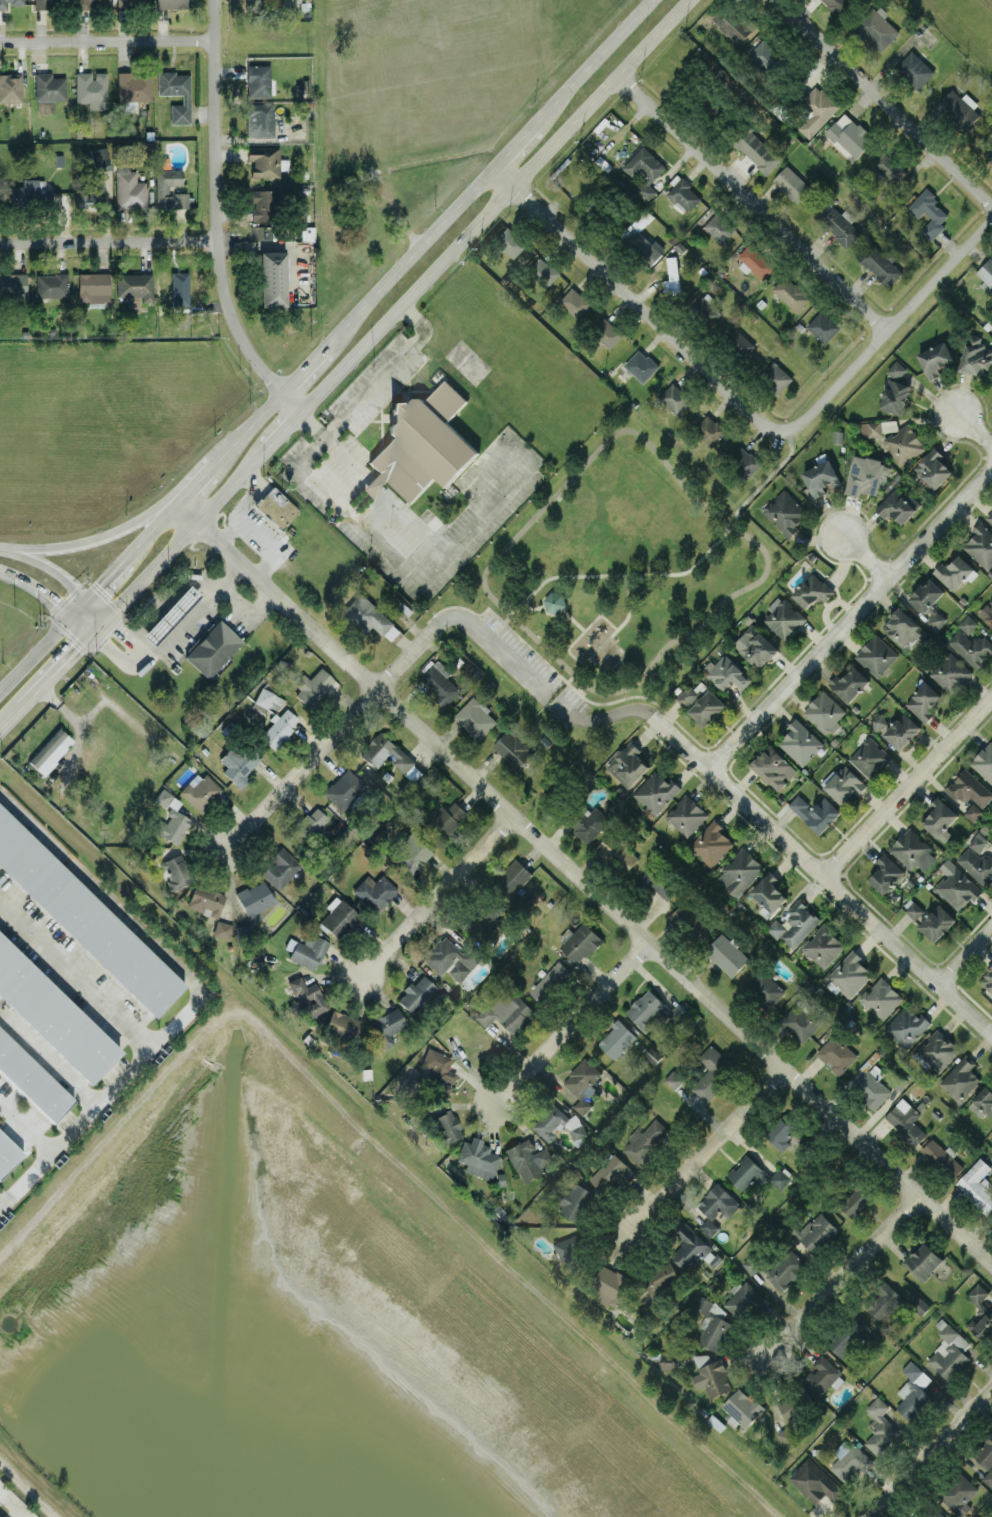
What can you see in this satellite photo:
building: (9, 2)
building: (84, 2)
building: (131, 2)
building: (43, 3)
building: (170, 3)
building: (837, 5)
building: (734, 24)
building: (876, 28)
road: (107, 39)
building: (764, 57)
building: (914, 69)
building: (258, 80)
building: (134, 85)
building: (10, 86)
building: (91, 88)
building: (48, 90)
building: (185, 98)
road: (884, 102)
building: (959, 108)
building: (816, 109)
building: (259, 118)
building: (848, 136)
building: (757, 150)
building: (988, 152)
building: (99, 155)
building: (265, 160)
road: (493, 165)
building: (890, 167)
building: (640, 174)
building: (792, 184)
building: (88, 187)
building: (161, 188)
building: (129, 189)
building: (28, 190)
building: (684, 194)
building: (264, 204)
road: (755, 204)
road: (493, 205)
building: (929, 212)
road: (215, 216)
building: (642, 219)
building: (838, 223)
building: (720, 227)
road: (108, 240)
building: (511, 241)
building: (643, 247)
building: (755, 261)
building: (878, 262)
building: (543, 271)
building: (986, 272)
building: (272, 277)
building: (671, 278)
building: (13, 283)
building: (51, 284)
building: (134, 284)
building: (175, 285)
building: (93, 287)
building: (790, 293)
building: (577, 303)
road: (633, 303)
building: (708, 304)
building: (823, 326)
building: (608, 332)
road: (894, 332)
building: (745, 345)
building: (976, 356)
building: (935, 359)
road: (310, 361)
building: (641, 365)
building: (775, 377)
building: (895, 389)
building: (674, 398)
road: (258, 417)
road: (311, 423)
road: (975, 427)
road: (281, 428)
building: (871, 428)
building: (709, 429)
building: (423, 442)
building: (899, 442)
road: (346, 457)
building: (747, 464)
building: (933, 467)
road: (204, 472)
building: (864, 475)
building: (821, 478)
road: (374, 483)
building: (374, 484)
road: (254, 491)
road: (335, 499)
road: (166, 504)
building: (897, 505)
building: (275, 506)
building: (785, 512)
building: (989, 516)
road: (414, 520)
road: (727, 521)
road: (151, 528)
road: (185, 532)
road: (259, 533)
road: (88, 538)
building: (981, 544)
road: (7, 547)
road: (865, 558)
building: (954, 571)
road: (681, 572)
road: (64, 576)
traffic signals: (99, 582)
road: (97, 583)
building: (812, 590)
building: (926, 594)
road: (49, 595)
traffic signals: (55, 600)
road: (167, 601)
building: (554, 601)
road: (245, 604)
road: (556, 606)
building: (987, 612)
building: (169, 613)
gas station: (169, 613)
building: (370, 616)
building: (784, 617)
building: (934, 617)
road: (185, 619)
road: (849, 622)
building: (967, 623)
road: (115, 625)
building: (903, 627)
traffic signals: (120, 630)
road: (582, 630)
road: (614, 630)
road: (125, 642)
road: (106, 646)
building: (211, 646)
building: (756, 646)
traffic signals: (77, 647)
building: (971, 647)
road: (36, 651)
road: (509, 654)
building: (876, 655)
road: (63, 660)
parking lot: (527, 669)
building: (726, 672)
building: (950, 672)
building: (440, 682)
building: (849, 683)
building: (313, 686)
building: (688, 695)
building: (265, 696)
building: (923, 701)
building: (707, 707)
building: (824, 712)
road: (10, 715)
building: (475, 718)
building: (878, 721)
building: (278, 727)
building: (902, 730)
building: (800, 742)
building: (513, 747)
building: (50, 750)
building: (386, 752)
building: (870, 757)
road: (308, 761)
building: (239, 762)
building: (984, 762)
building: (627, 764)
building: (774, 767)
building: (413, 773)
building: (844, 783)
road: (907, 787)
building: (343, 788)
building: (969, 788)
building: (200, 790)
building: (656, 791)
building: (556, 794)
building: (973, 811)
building: (816, 812)
building: (686, 814)
building: (445, 818)
building: (940, 818)
building: (173, 822)
building: (590, 823)
building: (308, 824)
building: (991, 834)
building: (977, 841)
building: (711, 843)
building: (617, 848)
building: (912, 849)
building: (409, 851)
building: (977, 865)
building: (279, 867)
building: (175, 870)
building: (739, 871)
building: (886, 873)
road: (823, 876)
building: (956, 885)
road: (580, 888)
building: (375, 890)
building: (770, 892)
road: (437, 897)
building: (254, 898)
building: (206, 899)
building: (913, 908)
building: (486, 915)
building: (337, 916)
building: (683, 916)
building: (85, 917)
building: (937, 922)
building: (794, 924)
building: (222, 928)
building: (243, 930)
building: (580, 943)
building: (823, 945)
building: (307, 950)
building: (727, 954)
building: (451, 957)
road: (964, 957)
road: (76, 972)
building: (849, 973)
building: (987, 979)
building: (550, 981)
building: (764, 988)
building: (415, 993)
road: (198, 994)
building: (307, 994)
building: (880, 997)
building: (647, 1009)
building: (507, 1011)
building: (53, 1014)
building: (802, 1019)
building: (386, 1025)
road: (569, 1026)
building: (905, 1026)
building: (617, 1039)
building: (937, 1050)
building: (836, 1054)
road: (48, 1055)
building: (438, 1066)
building: (712, 1071)
building: (32, 1078)
building: (673, 1079)
building: (959, 1079)
building: (871, 1086)
building: (982, 1102)
building: (905, 1121)
building: (557, 1123)
road: (25, 1125)
building: (447, 1125)
building: (781, 1131)
building: (645, 1140)
road: (704, 1151)
building: (7, 1152)
building: (477, 1157)
building: (941, 1157)
building: (528, 1159)
building: (611, 1172)
building: (756, 1174)
building: (977, 1184)
building: (855, 1198)
building: (574, 1200)
building: (715, 1207)
building: (817, 1232)
building: (689, 1246)
building: (571, 1252)
building: (924, 1260)
building: (751, 1264)
building: (785, 1269)
road: (844, 1273)
building: (661, 1278)
building: (611, 1285)
building: (741, 1298)
building: (884, 1302)
building: (919, 1304)
building: (980, 1313)
building: (713, 1322)
building: (848, 1335)
building: (949, 1352)
building: (702, 1358)
building: (670, 1361)
building: (823, 1376)
building: (712, 1378)
building: (914, 1391)
building: (742, 1408)
building: (790, 1409)
building: (880, 1427)
building: (785, 1436)
road: (932, 1452)
building: (983, 1454)
building: (850, 1462)
building: (988, 1477)
building: (815, 1481)
building: (959, 1494)
building: (930, 1511)

